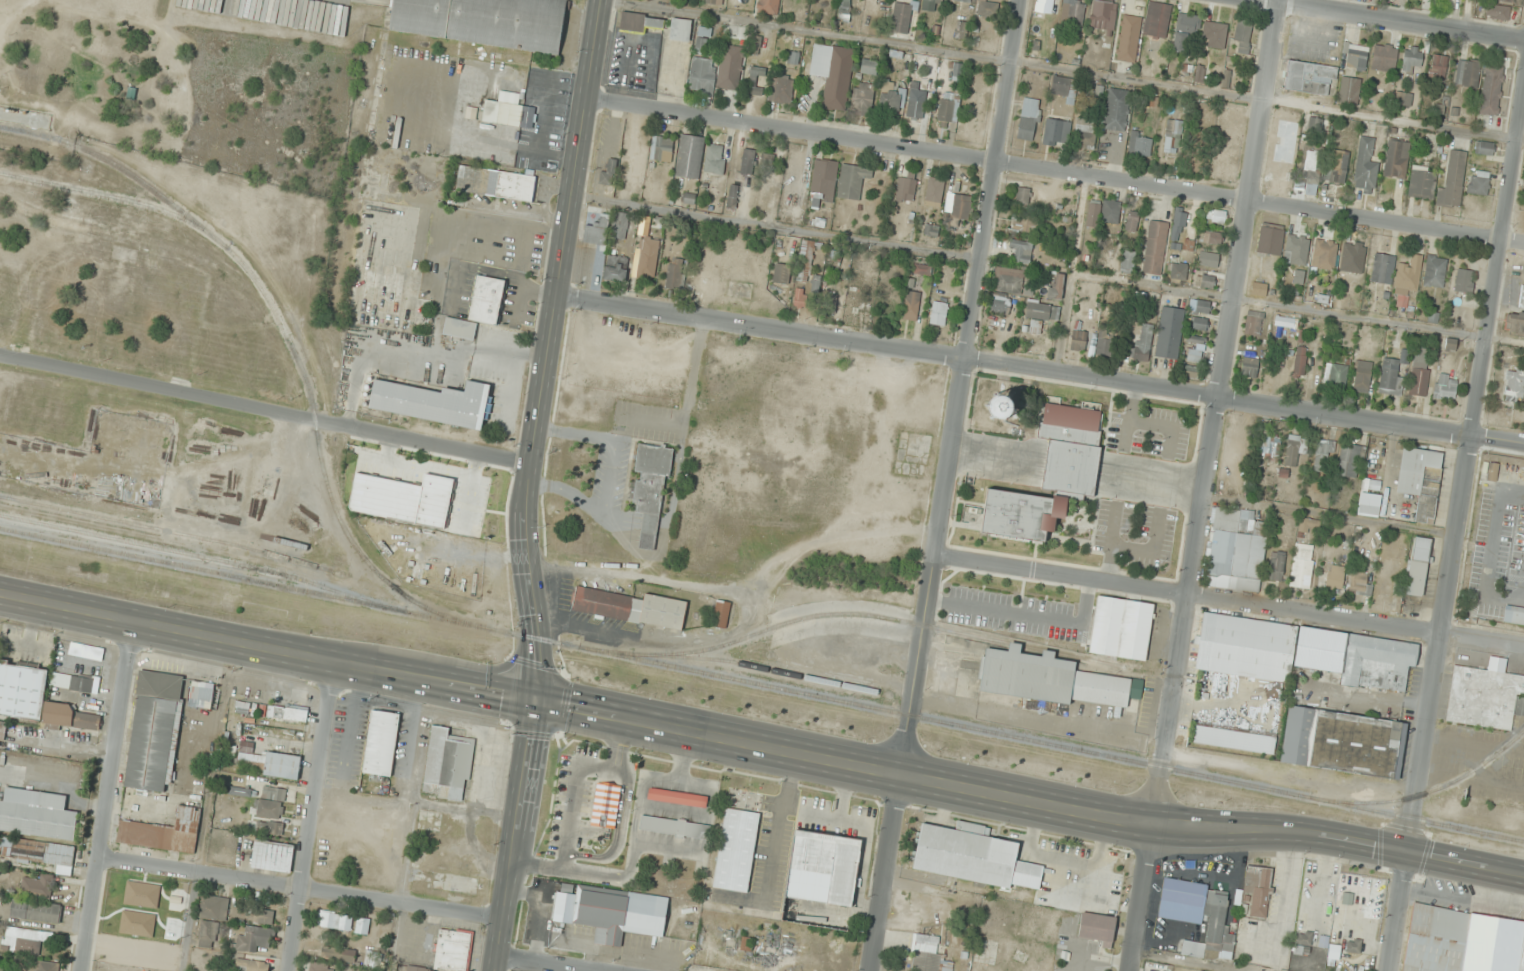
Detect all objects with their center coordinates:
building: (963, 0)
building: (1507, 1)
building: (932, 5)
building: (767, 6)
building: (1047, 6)
building: (845, 10)
building: (1073, 11)
building: (1498, 11)
road: (1466, 15)
building: (1103, 16)
building: (902, 17)
building: (1157, 19)
road: (1391, 20)
building: (485, 21)
building: (642, 23)
building: (1188, 25)
building: (680, 30)
building: (966, 32)
building: (1214, 32)
building: (1128, 37)
building: (1242, 37)
building: (702, 38)
building: (1355, 57)
building: (1384, 58)
building: (1412, 58)
building: (730, 67)
building: (869, 67)
building: (1439, 67)
building: (833, 73)
building: (1467, 73)
building: (703, 76)
building: (1310, 78)
building: (755, 80)
building: (781, 88)
building: (1064, 88)
building: (1491, 89)
building: (1349, 91)
building: (862, 98)
building: (892, 99)
building: (1404, 99)
building: (947, 107)
building: (915, 109)
building: (1116, 109)
building: (508, 110)
building: (1030, 119)
building: (1317, 124)
building: (1056, 130)
building: (1085, 133)
building: (1173, 136)
building: (1140, 144)
building: (661, 148)
building: (1486, 148)
building: (691, 155)
building: (715, 159)
building: (1397, 159)
building: (747, 161)
railway: (114, 165)
building: (1365, 166)
building: (1338, 167)
building: (1311, 169)
building: (609, 171)
road: (1056, 171)
building: (1453, 178)
building: (794, 180)
building: (823, 181)
building: (852, 181)
building: (1479, 182)
building: (496, 183)
building: (1421, 184)
building: (905, 189)
building: (934, 191)
building: (767, 193)
building: (1022, 195)
building: (958, 206)
building: (1103, 213)
building: (1216, 215)
building: (1132, 221)
building: (1027, 223)
building: (620, 225)
building: (1178, 229)
building: (930, 230)
building: (596, 232)
building: (1212, 237)
building: (1270, 239)
building: (1155, 248)
building: (1022, 250)
building: (1296, 250)
building: (1324, 255)
building: (1352, 258)
building: (647, 259)
building: (1209, 259)
building: (1128, 260)
building: (805, 261)
building: (1383, 268)
building: (615, 269)
building: (921, 269)
building: (1177, 271)
building: (1435, 271)
building: (675, 273)
building: (781, 274)
building: (1008, 280)
building: (1204, 281)
building: (1407, 281)
building: (1464, 281)
building: (1056, 286)
building: (1258, 289)
building: (1522, 297)
building: (800, 298)
building: (854, 300)
building: (830, 303)
building: (911, 305)
building: (1000, 305)
building: (1202, 307)
building: (478, 308)
building: (939, 313)
building: (1040, 315)
building: (1515, 320)
building: (1253, 322)
building: (1285, 322)
building: (1200, 324)
building: (1169, 333)
building: (1196, 338)
building: (1078, 340)
building: (1144, 342)
building: (1104, 346)
road: (549, 348)
building: (1194, 355)
railway: (298, 360)
building: (1300, 361)
building: (1250, 364)
road: (1041, 370)
building: (1191, 372)
building: (1335, 375)
building: (1362, 376)
building: (1391, 376)
building: (1419, 383)
building: (1514, 384)
road: (959, 387)
building: (1445, 387)
building: (433, 402)
water tower: (999, 406)
water tower: (1001, 408)
road: (264, 412)
road: (1216, 412)
road: (1128, 417)
road: (1164, 422)
building: (1268, 449)
building: (1294, 451)
building: (1323, 454)
building: (1349, 460)
road: (1467, 468)
building: (1492, 472)
building: (1048, 476)
road: (1150, 480)
building: (1419, 481)
parking lot: (1140, 483)
building: (649, 491)
building: (1369, 504)
railway: (95, 517)
building: (1310, 524)
road: (1110, 543)
parking lot: (1494, 546)
building: (1236, 550)
road: (1152, 552)
railway: (201, 556)
building: (1302, 565)
building: (1418, 566)
building: (1276, 567)
building: (1335, 576)
building: (1359, 582)
road: (1229, 601)
building: (630, 607)
building: (721, 614)
railway: (847, 614)
building: (1513, 616)
building: (1121, 628)
road: (266, 649)
building: (1301, 652)
building: (1052, 679)
building: (72, 682)
railway: (762, 686)
building: (22, 690)
building: (202, 694)
building: (1485, 697)
traffic signals: (533, 699)
building: (242, 707)
building: (287, 713)
building: (72, 717)
building: (154, 730)
building: (2, 731)
building: (1342, 741)
building: (381, 743)
road: (831, 761)
building: (270, 764)
building: (448, 765)
railway: (1431, 795)
building: (677, 796)
road: (109, 798)
building: (438, 799)
building: (271, 802)
building: (606, 805)
building: (36, 814)
road: (311, 816)
building: (676, 827)
building: (269, 828)
building: (163, 832)
road: (513, 834)
road: (1328, 837)
building: (36, 850)
building: (736, 850)
traffic signals: (1407, 853)
building: (272, 856)
building: (972, 856)
building: (823, 867)
road: (886, 873)
building: (451, 881)
building: (38, 887)
road: (300, 888)
building: (1256, 891)
road: (1142, 897)
building: (214, 907)
building: (36, 911)
building: (612, 911)
road: (1397, 912)
building: (263, 917)
building: (1215, 919)
building: (335, 920)
building: (363, 925)
building: (1097, 927)
building: (207, 934)
building: (254, 938)
building: (26, 940)
building: (1304, 940)
building: (1462, 941)
building: (452, 949)
building: (120, 951)
building: (338, 954)
building: (928, 954)
building: (373, 959)
road: (545, 963)
building: (251, 965)
building: (46, 966)
building: (320, 966)
building: (416, 968)

